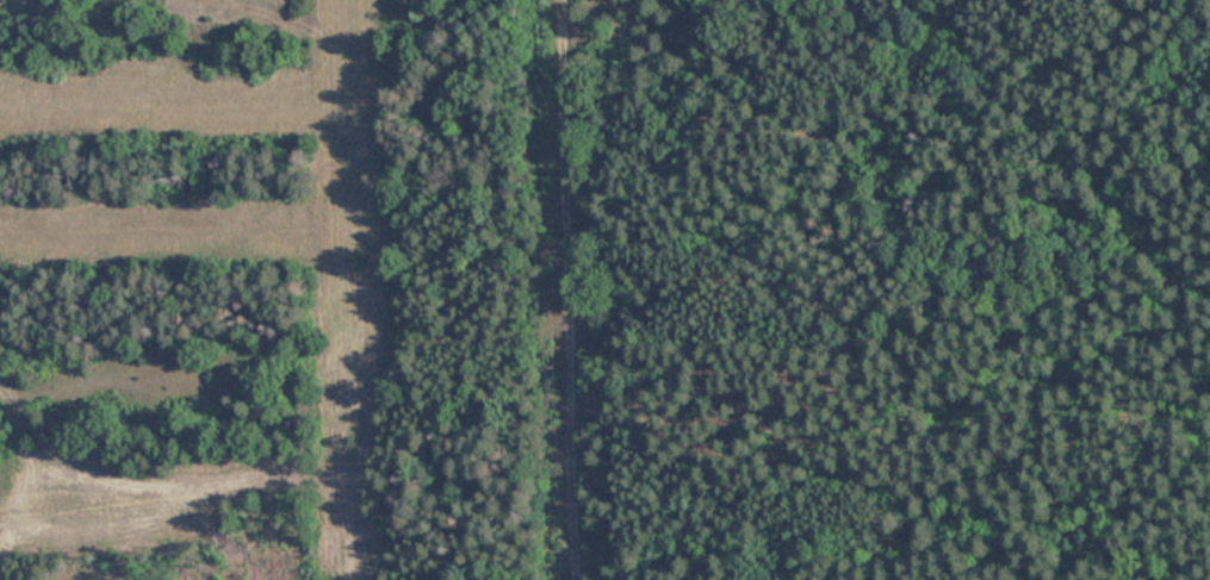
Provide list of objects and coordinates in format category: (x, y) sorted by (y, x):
road: (1175, 31)
road: (571, 289)
park: (604, 289)

